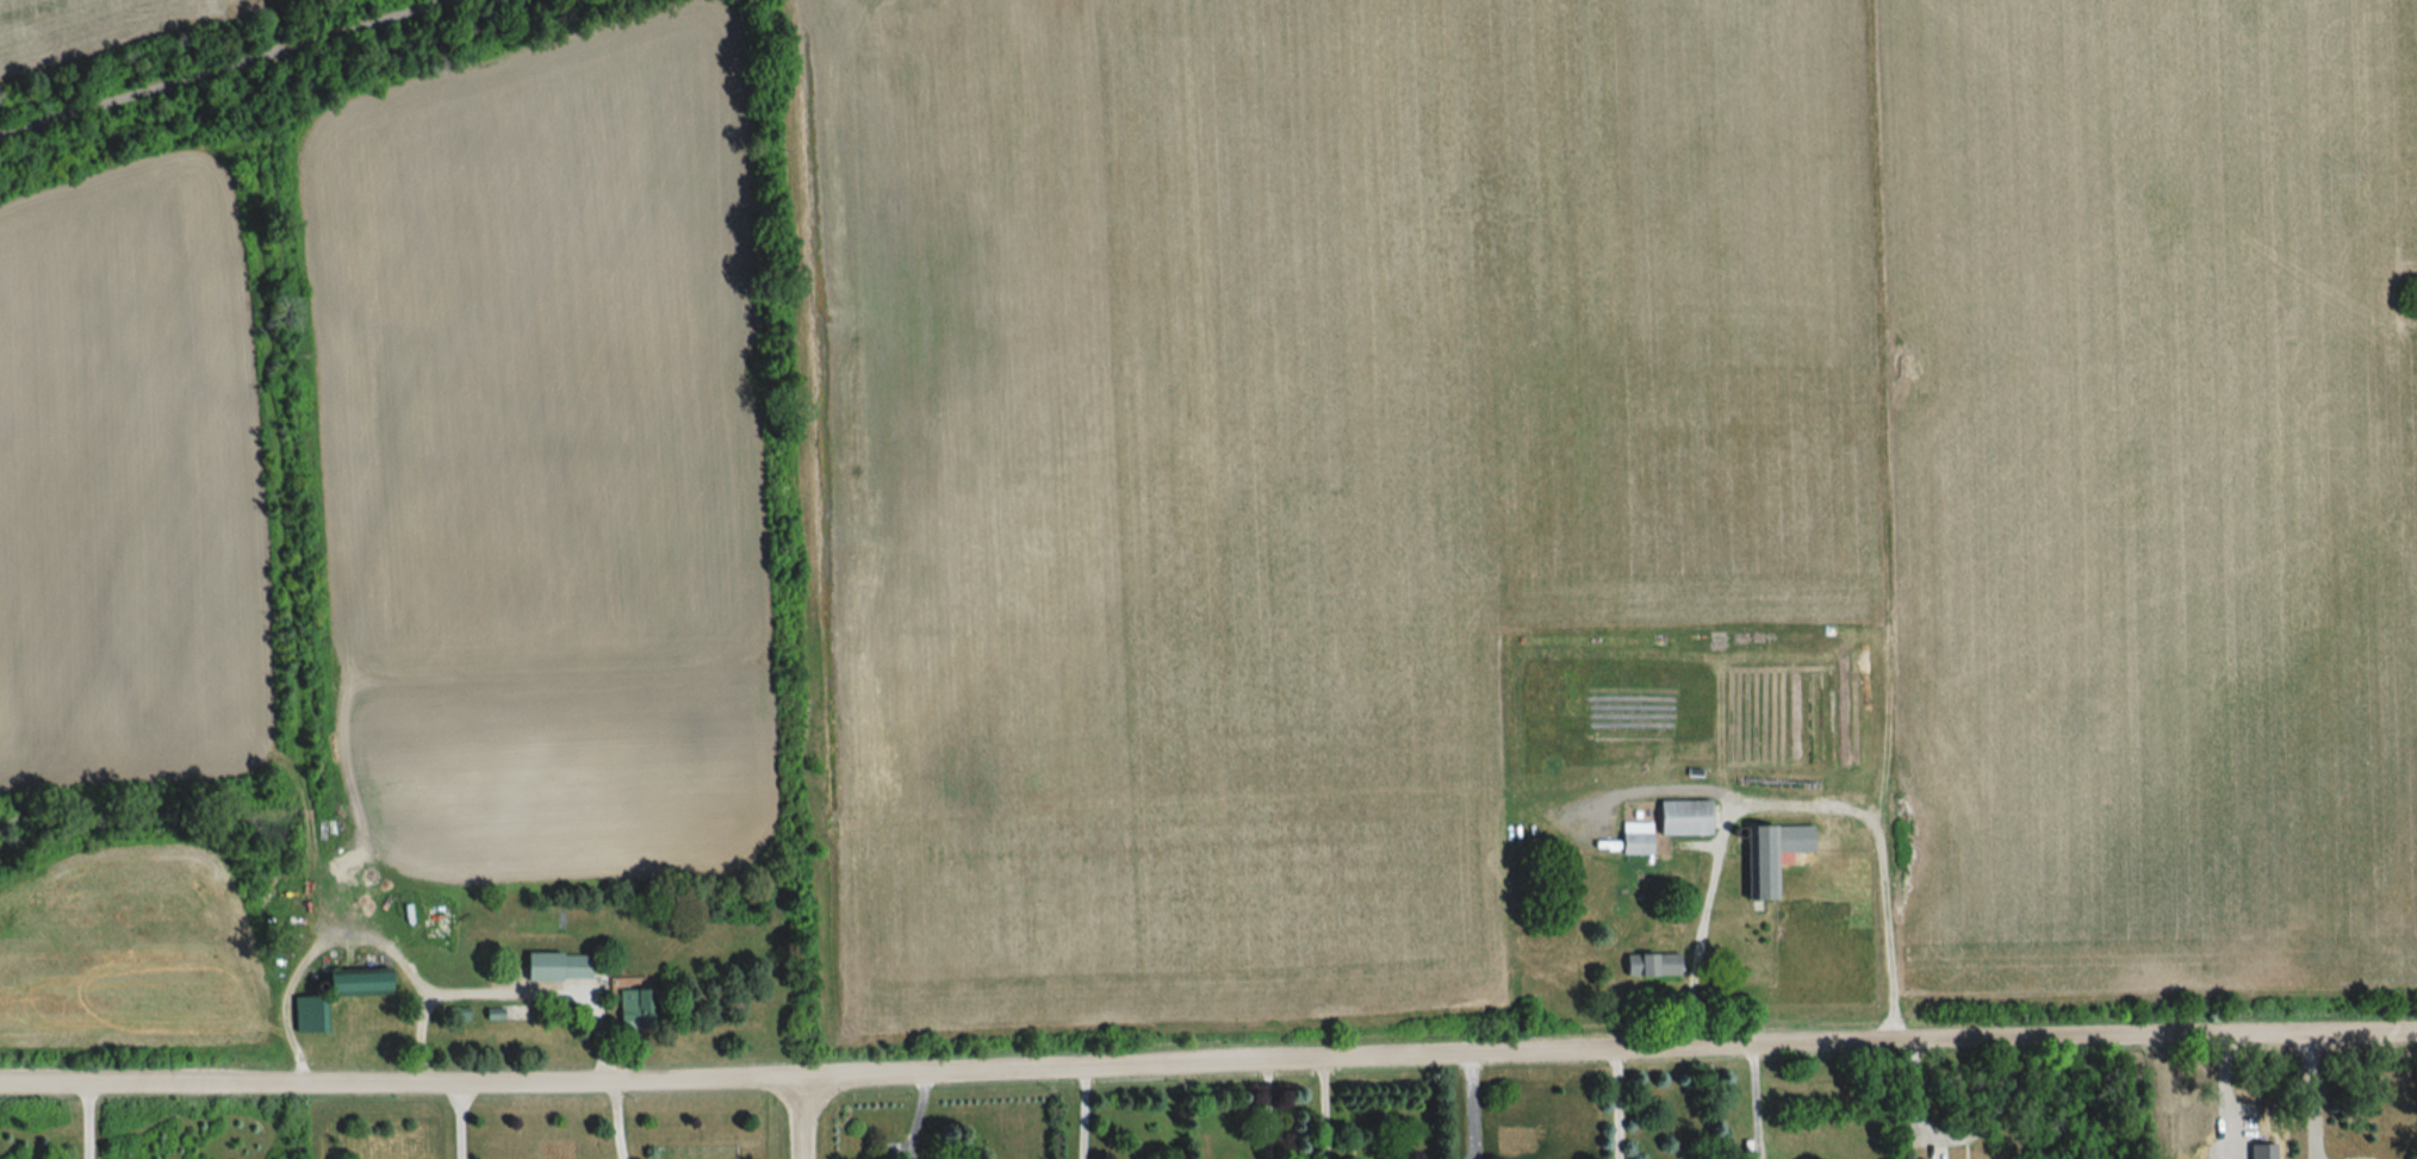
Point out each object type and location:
crop: (81, 29)
road: (228, 68)
crop: (2407, 294)
crop: (2407, 294)
crop: (2407, 294)
crop: (2407, 294)
crop: (559, 457)
crop: (1601, 467)
crop: (129, 478)
building: (1680, 818)
building: (1633, 845)
building: (1760, 877)
crop: (131, 954)
road: (318, 957)
building: (1648, 964)
building: (555, 967)
building: (350, 985)
road: (509, 995)
road: (1208, 1066)
road: (2311, 1095)
road: (1756, 1104)
road: (1620, 1107)
road: (1475, 1109)
road: (1324, 1110)
road: (1267, 1111)
road: (1081, 1115)
road: (460, 1120)
road: (620, 1120)
road: (802, 1120)
road: (87, 1121)
road: (1957, 1140)

